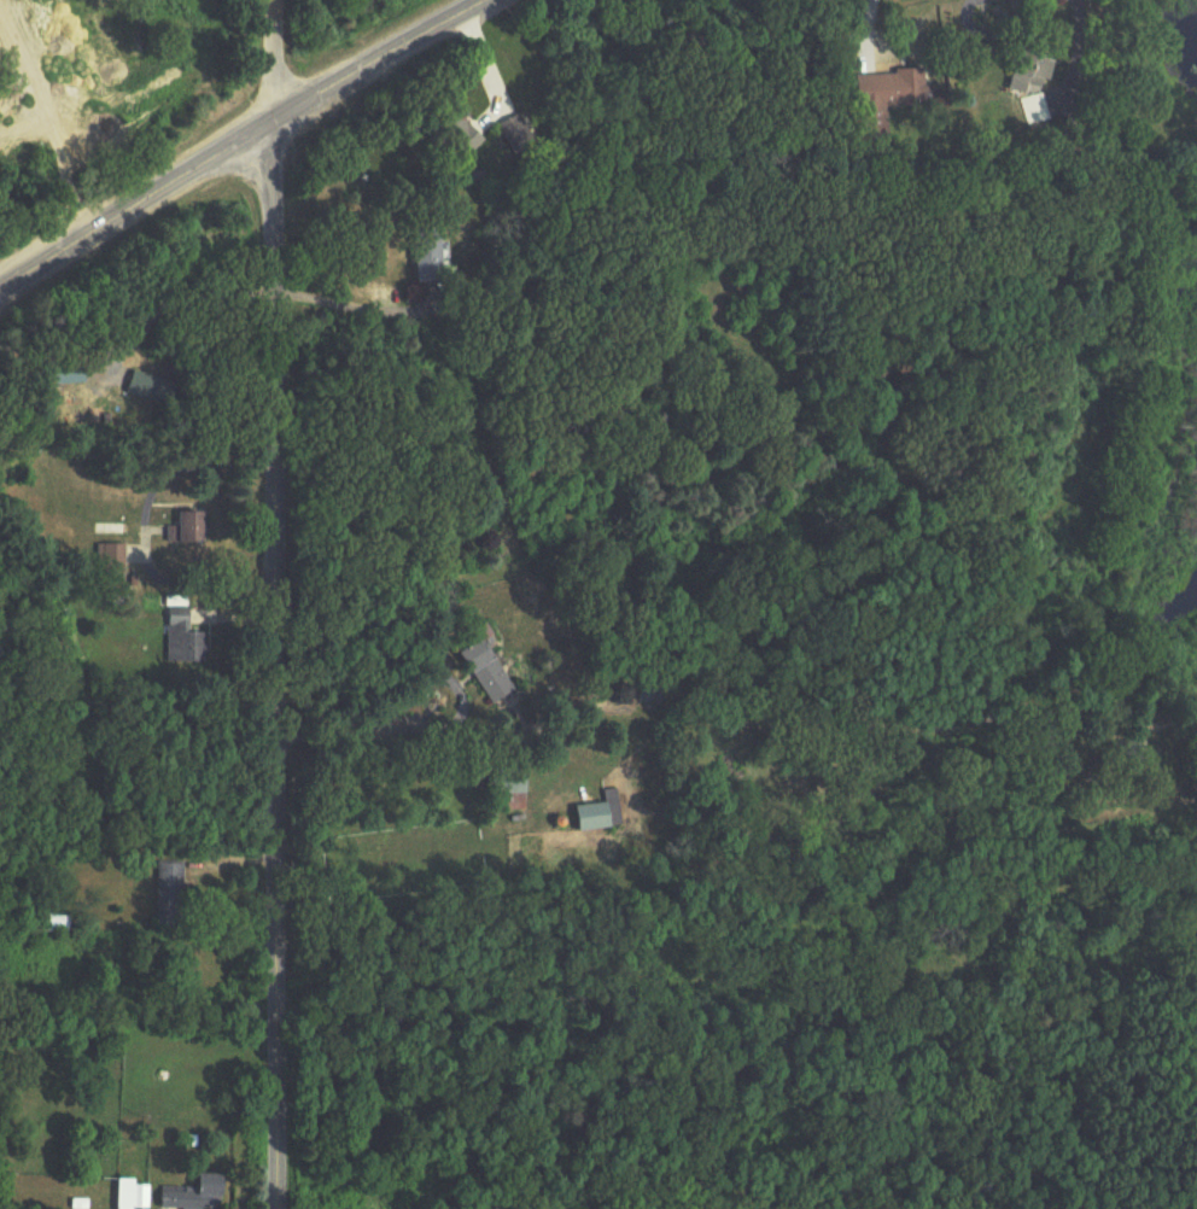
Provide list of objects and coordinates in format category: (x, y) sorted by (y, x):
road: (871, 14)
road: (999, 25)
road: (270, 60)
building: (1035, 83)
building: (892, 95)
building: (465, 136)
building: (516, 136)
road: (238, 141)
building: (432, 262)
road: (175, 299)
road: (338, 303)
building: (150, 387)
building: (189, 531)
building: (182, 633)
road: (273, 665)
building: (491, 671)
building: (648, 691)
building: (510, 795)
building: (602, 814)
building: (173, 894)
building: (60, 924)
building: (199, 1195)

